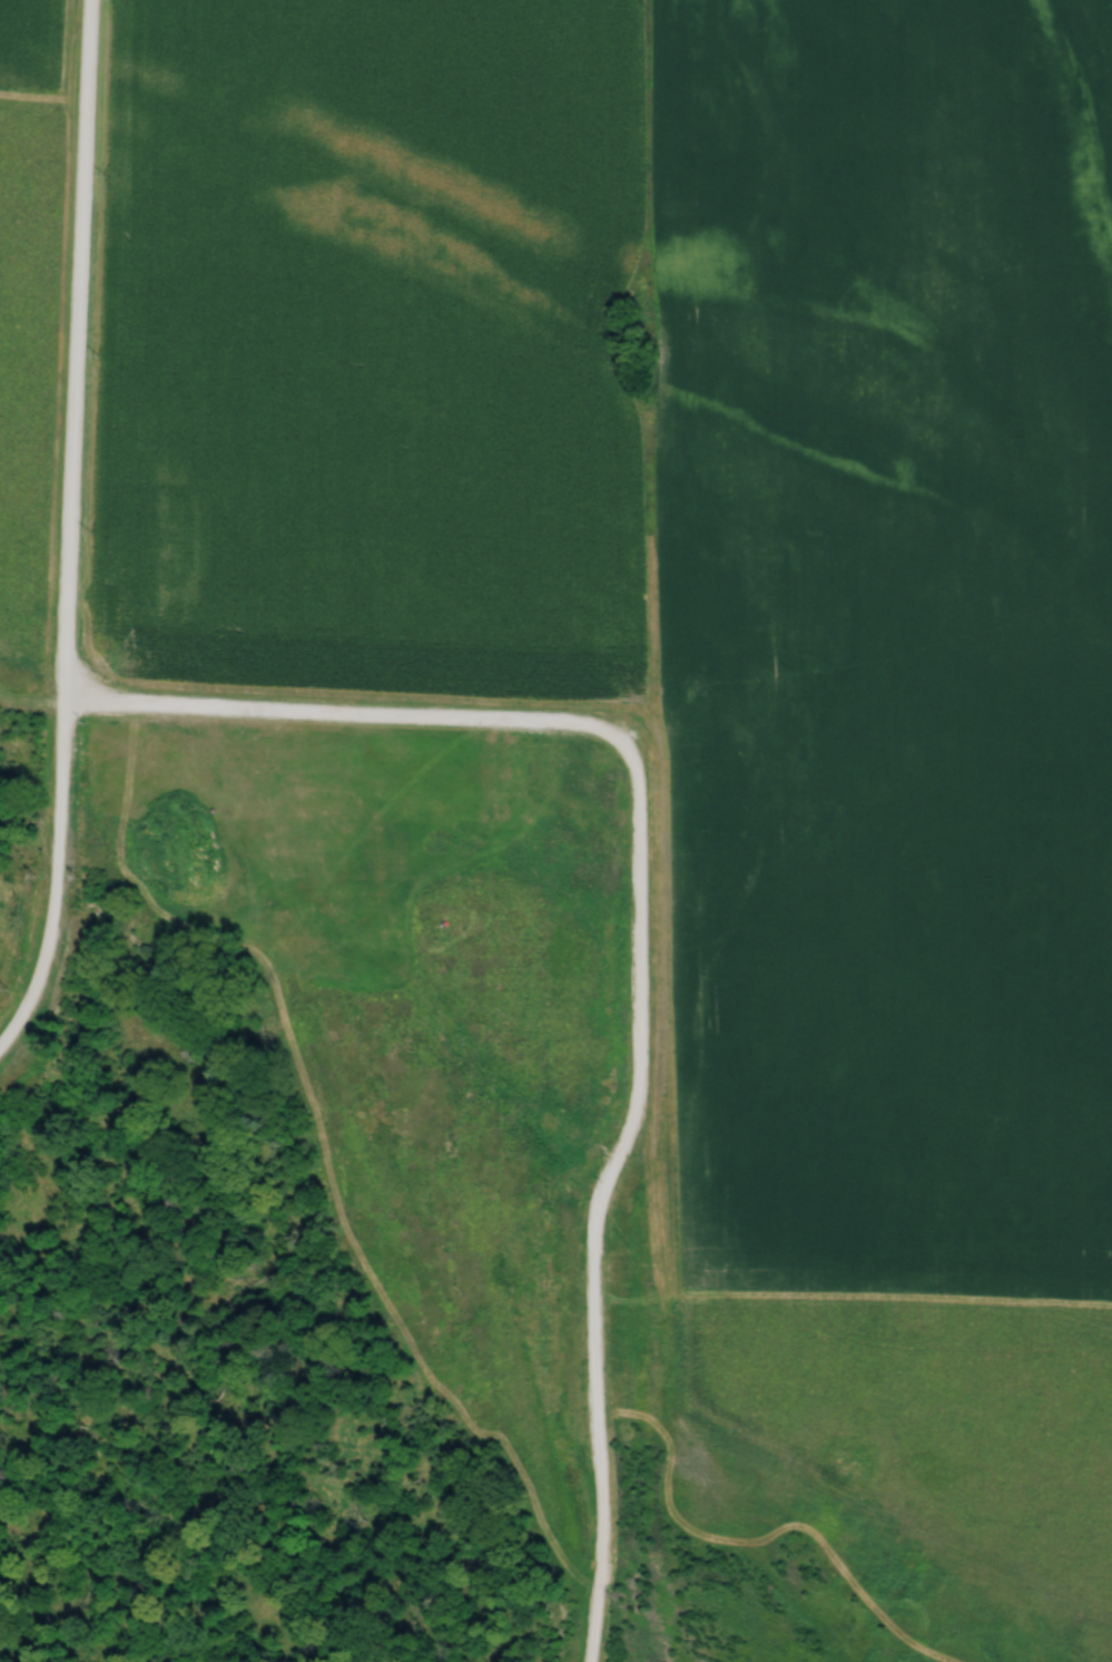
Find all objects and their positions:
road: (69, 531)
road: (640, 918)

